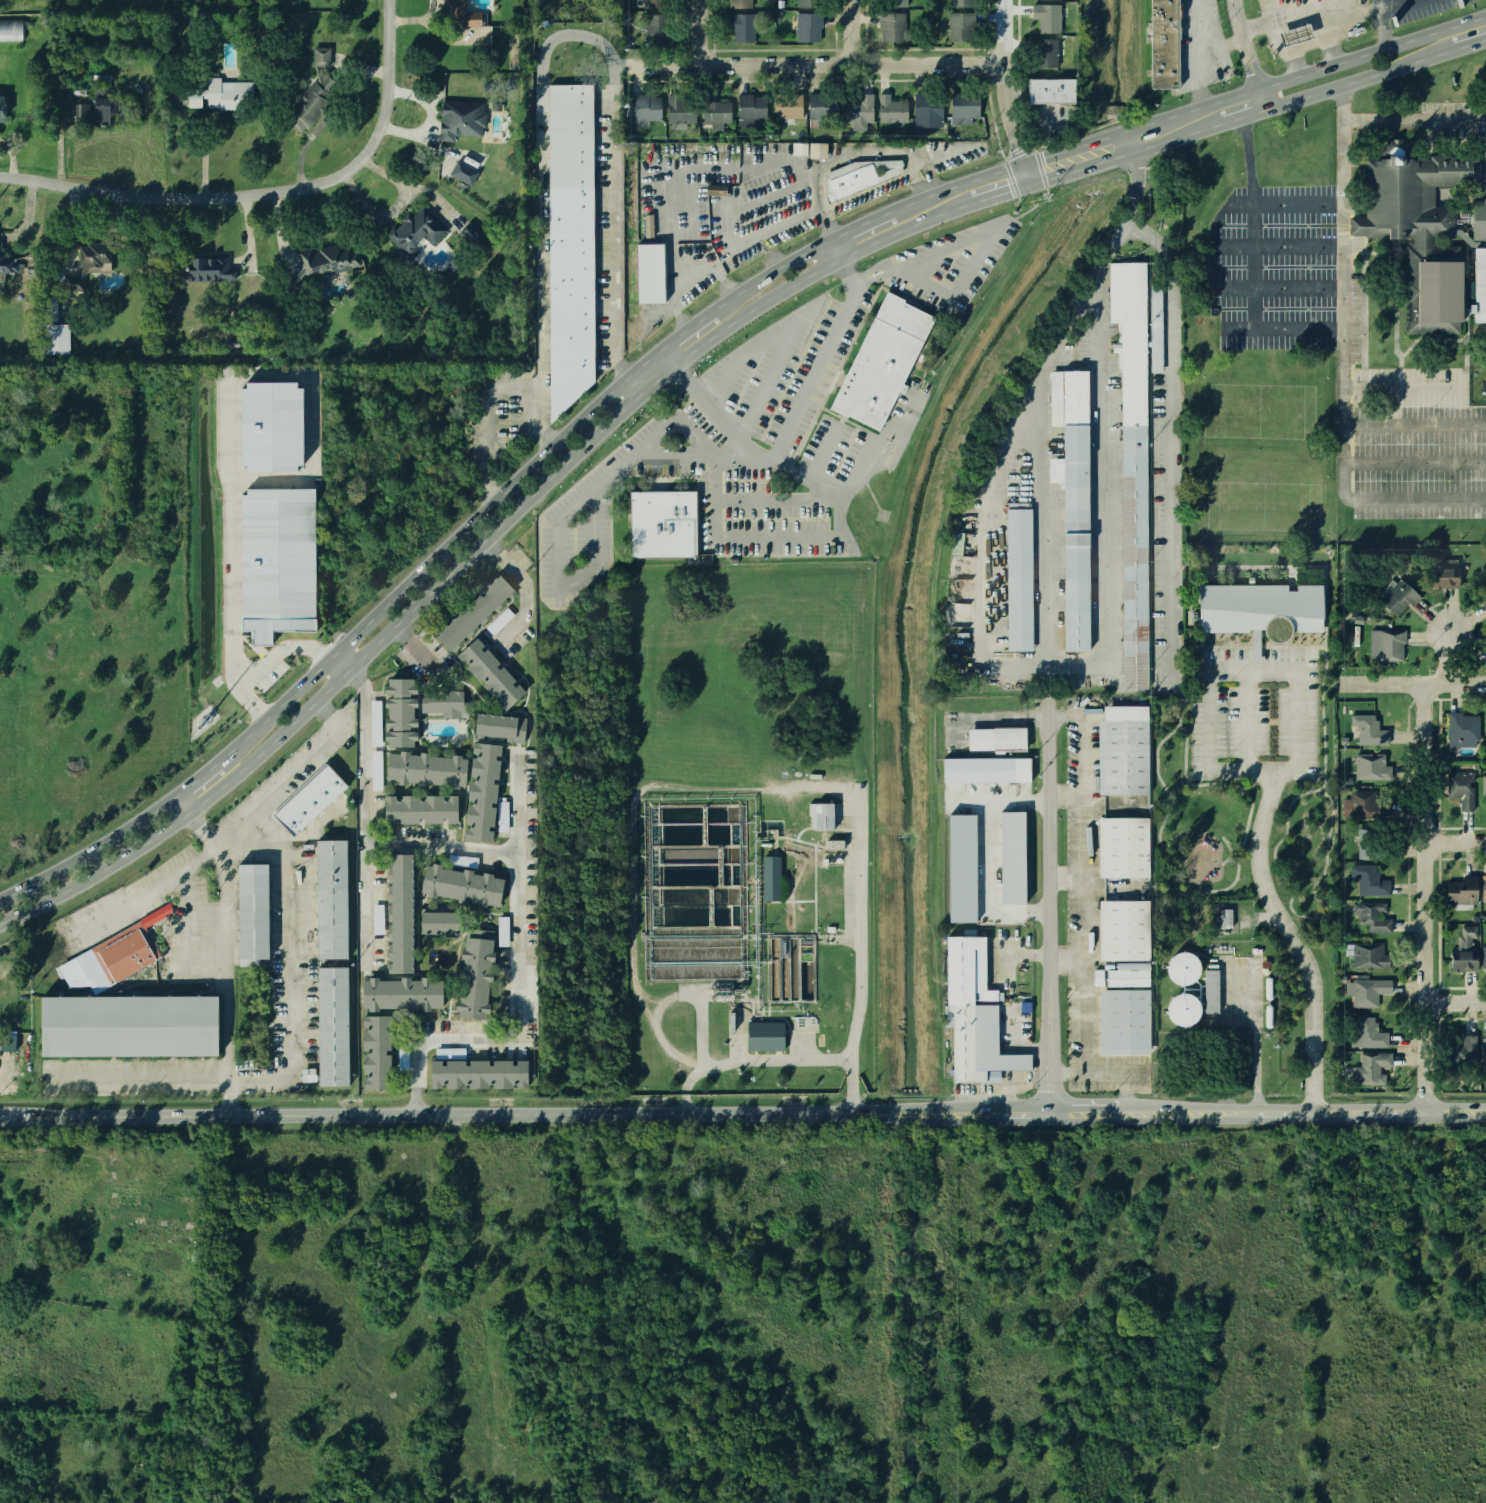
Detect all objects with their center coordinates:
building: (808, 3)
building: (962, 3)
road: (1377, 3)
building: (325, 4)
building: (655, 4)
building: (740, 4)
building: (892, 4)
road: (386, 6)
street lamp: (1255, 10)
building: (460, 13)
building: (1048, 16)
road: (1335, 17)
street lamp: (1366, 21)
building: (962, 26)
building: (743, 27)
building: (808, 27)
building: (891, 27)
building: (656, 28)
road: (1382, 28)
building: (10, 29)
road: (850, 31)
road: (694, 32)
building: (1295, 35)
gas station: (1295, 37)
street lamp: (1344, 39)
road: (1223, 44)
building: (1163, 45)
road: (1469, 45)
road: (882, 47)
road: (1286, 51)
road: (1331, 51)
building: (1049, 52)
road: (1252, 53)
road: (1197, 54)
building: (320, 56)
road: (1293, 63)
road: (811, 64)
road: (1322, 68)
road: (1359, 80)
building: (486, 86)
building: (1052, 90)
road: (1002, 94)
building: (224, 95)
road: (1019, 96)
building: (313, 99)
building: (101, 103)
building: (786, 105)
building: (858, 107)
building: (644, 108)
building: (891, 108)
building: (2, 109)
building: (678, 109)
building: (750, 109)
building: (819, 109)
building: (928, 109)
building: (965, 109)
building: (714, 110)
building: (81, 112)
road: (1242, 115)
building: (460, 119)
parking lot: (1453, 119)
road: (1416, 120)
road: (1143, 126)
road: (1129, 142)
road: (1074, 148)
building: (817, 150)
road: (847, 155)
road: (1124, 155)
road: (11, 157)
traffic signals: (1023, 166)
building: (463, 172)
road: (694, 173)
road: (990, 176)
building: (857, 178)
traffic signals: (1030, 185)
road: (540, 187)
building: (716, 189)
road: (259, 192)
road: (996, 195)
road: (923, 197)
road: (1287, 202)
road: (1013, 216)
road: (858, 224)
road: (1129, 225)
building: (415, 230)
building: (1428, 233)
building: (475, 237)
road: (614, 239)
building: (570, 244)
road: (1281, 247)
road: (942, 248)
building: (94, 254)
building: (326, 259)
road: (838, 260)
building: (6, 264)
building: (208, 268)
road: (1253, 268)
parking lot: (940, 269)
road: (766, 272)
building: (650, 273)
road: (811, 273)
road: (690, 277)
road: (871, 277)
building: (291, 281)
building: (73, 283)
road: (1281, 289)
road: (681, 328)
building: (1156, 328)
building: (54, 330)
road: (1237, 330)
road: (691, 336)
parking lot: (1346, 352)
building: (881, 362)
road: (1345, 362)
road: (813, 371)
parking lot: (798, 385)
road: (229, 390)
road: (750, 410)
road: (1100, 410)
road: (484, 418)
road: (1415, 424)
building: (271, 426)
road: (1169, 443)
road: (760, 454)
building: (1132, 459)
road: (1414, 461)
parking lot: (750, 492)
building: (1074, 498)
road: (779, 499)
road: (557, 514)
helipad: (881, 514)
helipad: (879, 515)
building: (662, 522)
road: (760, 536)
road: (981, 545)
road: (438, 552)
building: (277, 561)
road: (1043, 562)
building: (1440, 574)
building: (1019, 579)
road: (529, 586)
building: (1482, 588)
building: (1393, 594)
building: (1483, 605)
building: (1256, 606)
building: (474, 612)
building: (1384, 644)
road: (416, 645)
road: (1446, 659)
road: (265, 663)
road: (337, 664)
road: (352, 664)
road: (1208, 671)
building: (490, 674)
road: (1332, 683)
road: (1413, 685)
building: (441, 702)
road: (1322, 709)
building: (400, 712)
road: (1246, 719)
building: (498, 727)
building: (1462, 729)
building: (1368, 730)
building: (998, 739)
building: (1485, 741)
building: (1124, 750)
road: (305, 761)
building: (1371, 766)
building: (425, 768)
building: (986, 769)
road: (1310, 775)
road: (197, 776)
road: (1197, 776)
park: (1254, 779)
road: (1228, 784)
building: (1461, 788)
building: (1484, 788)
building: (483, 791)
road: (1065, 792)
building: (309, 800)
building: (1366, 804)
road: (179, 805)
building: (421, 808)
road: (362, 811)
building: (821, 815)
road: (1459, 826)
road: (1454, 840)
building: (1371, 841)
road: (1435, 843)
road: (440, 844)
building: (834, 844)
building: (1123, 847)
road: (88, 851)
road: (988, 857)
building: (1014, 857)
road: (1462, 858)
road: (192, 859)
road: (1168, 863)
building: (962, 866)
building: (771, 876)
road: (1066, 876)
building: (1369, 880)
building: (463, 884)
road: (1047, 888)
building: (1484, 888)
building: (1462, 891)
road: (1086, 894)
road: (1422, 897)
building: (331, 900)
building: (400, 913)
building: (253, 915)
road: (1298, 915)
building: (1372, 916)
building: (1225, 918)
building: (441, 921)
road: (1439, 921)
building: (1123, 930)
road: (195, 933)
wastewater plant: (749, 935)
road: (1290, 936)
building: (1463, 951)
building: (123, 953)
building: (1366, 955)
road: (226, 956)
building: (1483, 956)
road: (1067, 961)
storage tank: (1186, 965)
building: (1183, 967)
building: (1127, 977)
building: (475, 978)
road: (863, 981)
road: (517, 984)
road: (1460, 986)
storage tank: (1268, 987)
building: (1212, 989)
building: (1367, 991)
road: (1435, 1002)
road: (1454, 1002)
storage tank: (1186, 1007)
building: (1183, 1009)
storage tank: (1269, 1015)
road: (1460, 1017)
building: (388, 1018)
building: (1123, 1021)
building: (975, 1022)
building: (130, 1026)
building: (332, 1028)
building: (1367, 1032)
road: (704, 1034)
building: (765, 1034)
building: (1460, 1052)
building: (1482, 1052)
road: (284, 1054)
road: (760, 1059)
building: (1371, 1069)
road: (1118, 1072)
building: (479, 1073)
road: (742, 1108)
road: (63, 1150)
building: (150, 1208)
road: (474, 1271)
building: (106, 1281)
building: (181, 1283)
building: (177, 1299)
building: (413, 1342)

